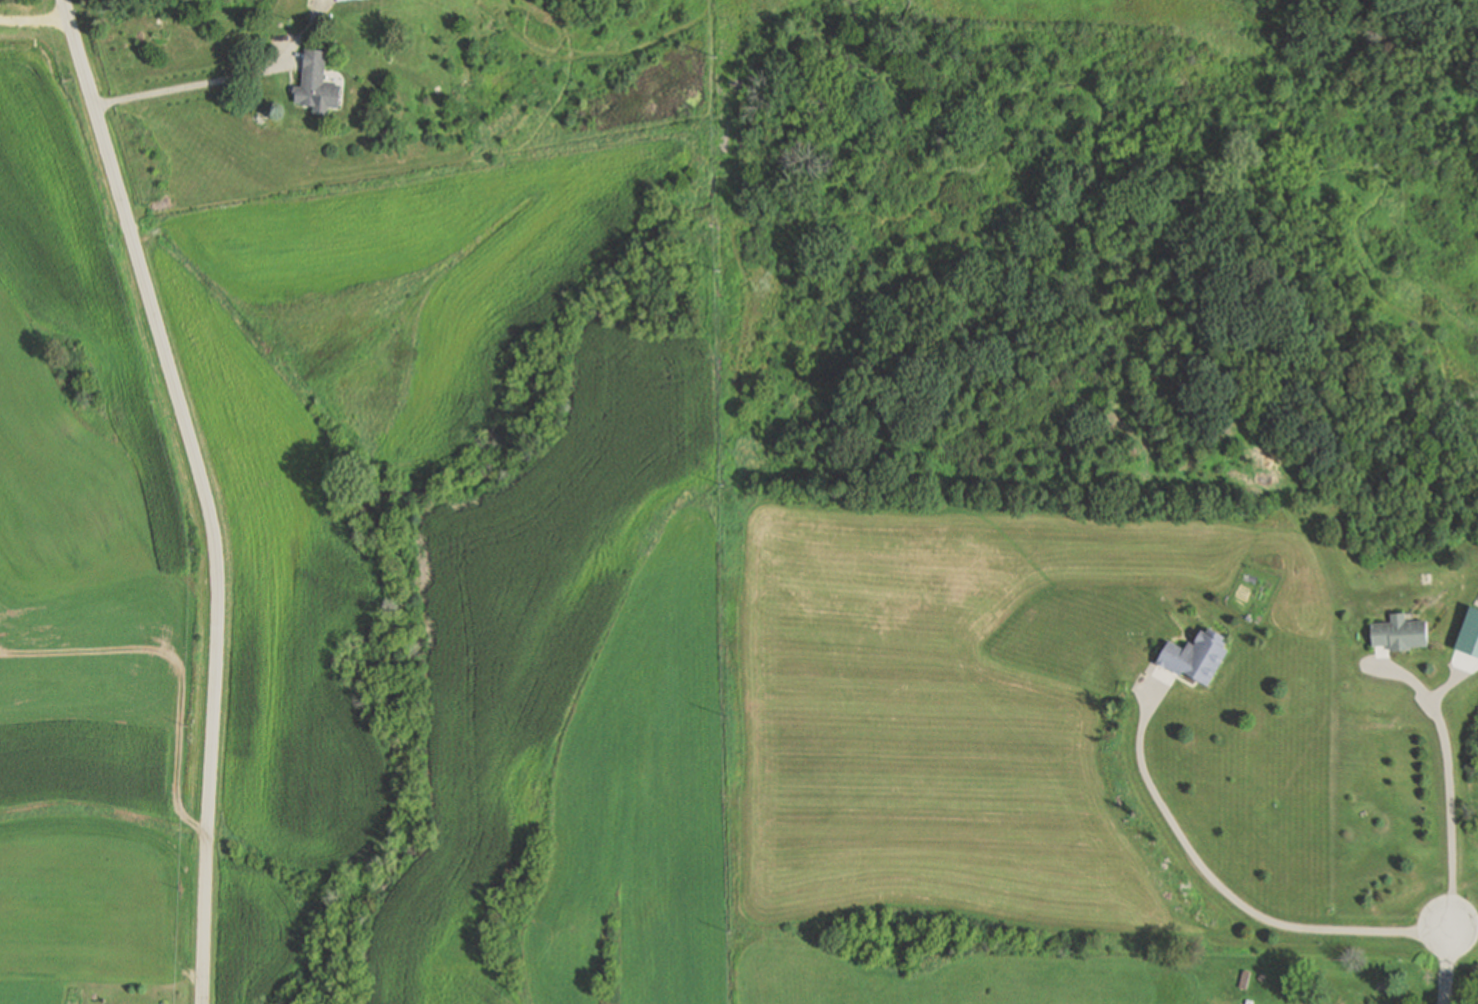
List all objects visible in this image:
building: (351, 0)
building: (316, 83)
road: (203, 84)
crop: (340, 238)
crop: (513, 297)
road: (206, 492)
crop: (87, 577)
crop: (279, 598)
building: (1398, 631)
crop: (535, 639)
building: (1196, 655)
road: (1448, 784)
road: (156, 846)
road: (1222, 890)
crop: (256, 938)
road: (1448, 968)
building: (1263, 975)
building: (1245, 978)

